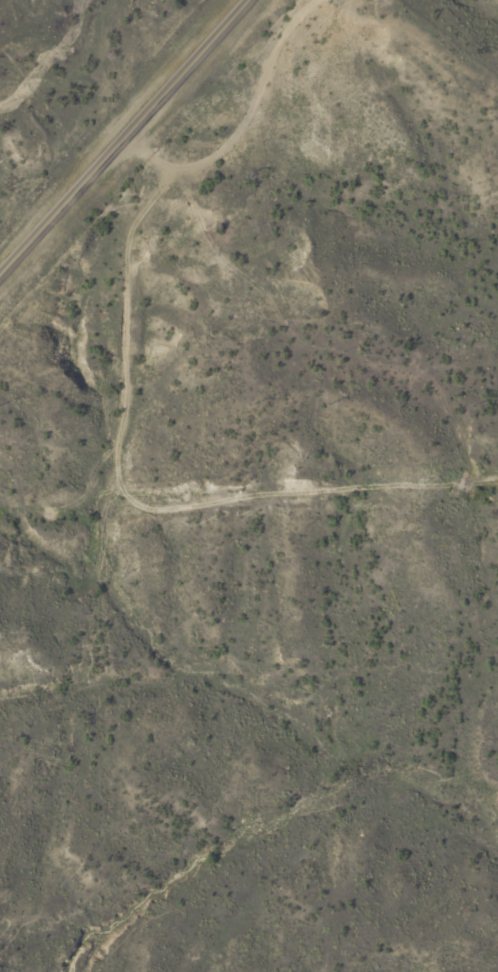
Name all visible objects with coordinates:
road: (129, 142)

